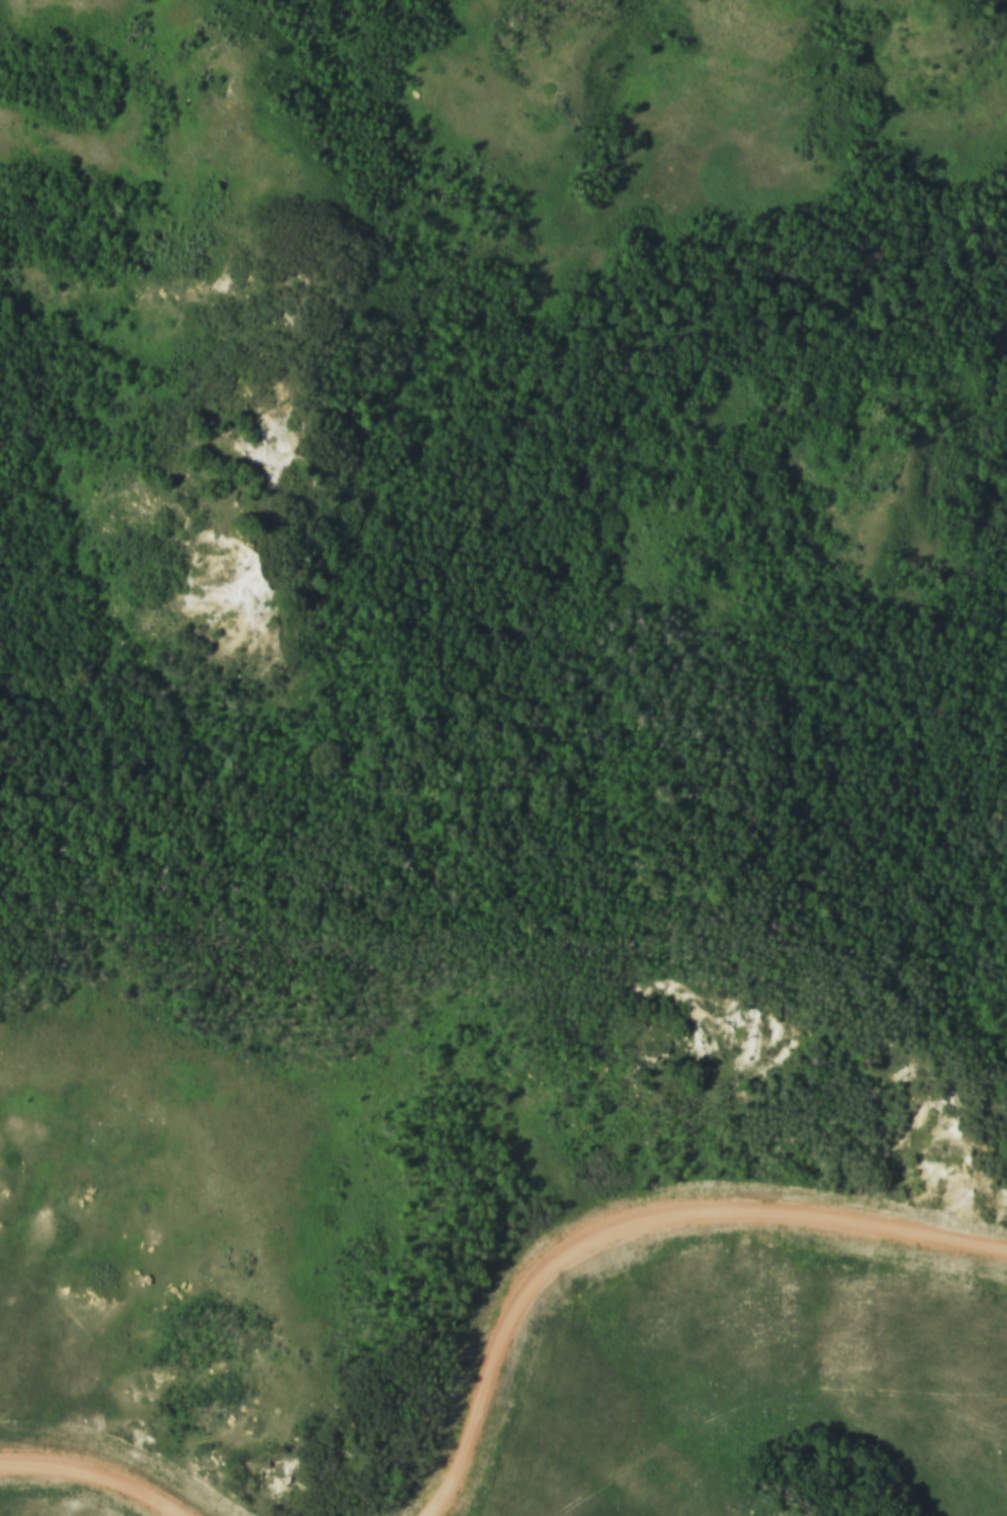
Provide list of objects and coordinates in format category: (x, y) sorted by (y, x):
road: (771, 1400)

